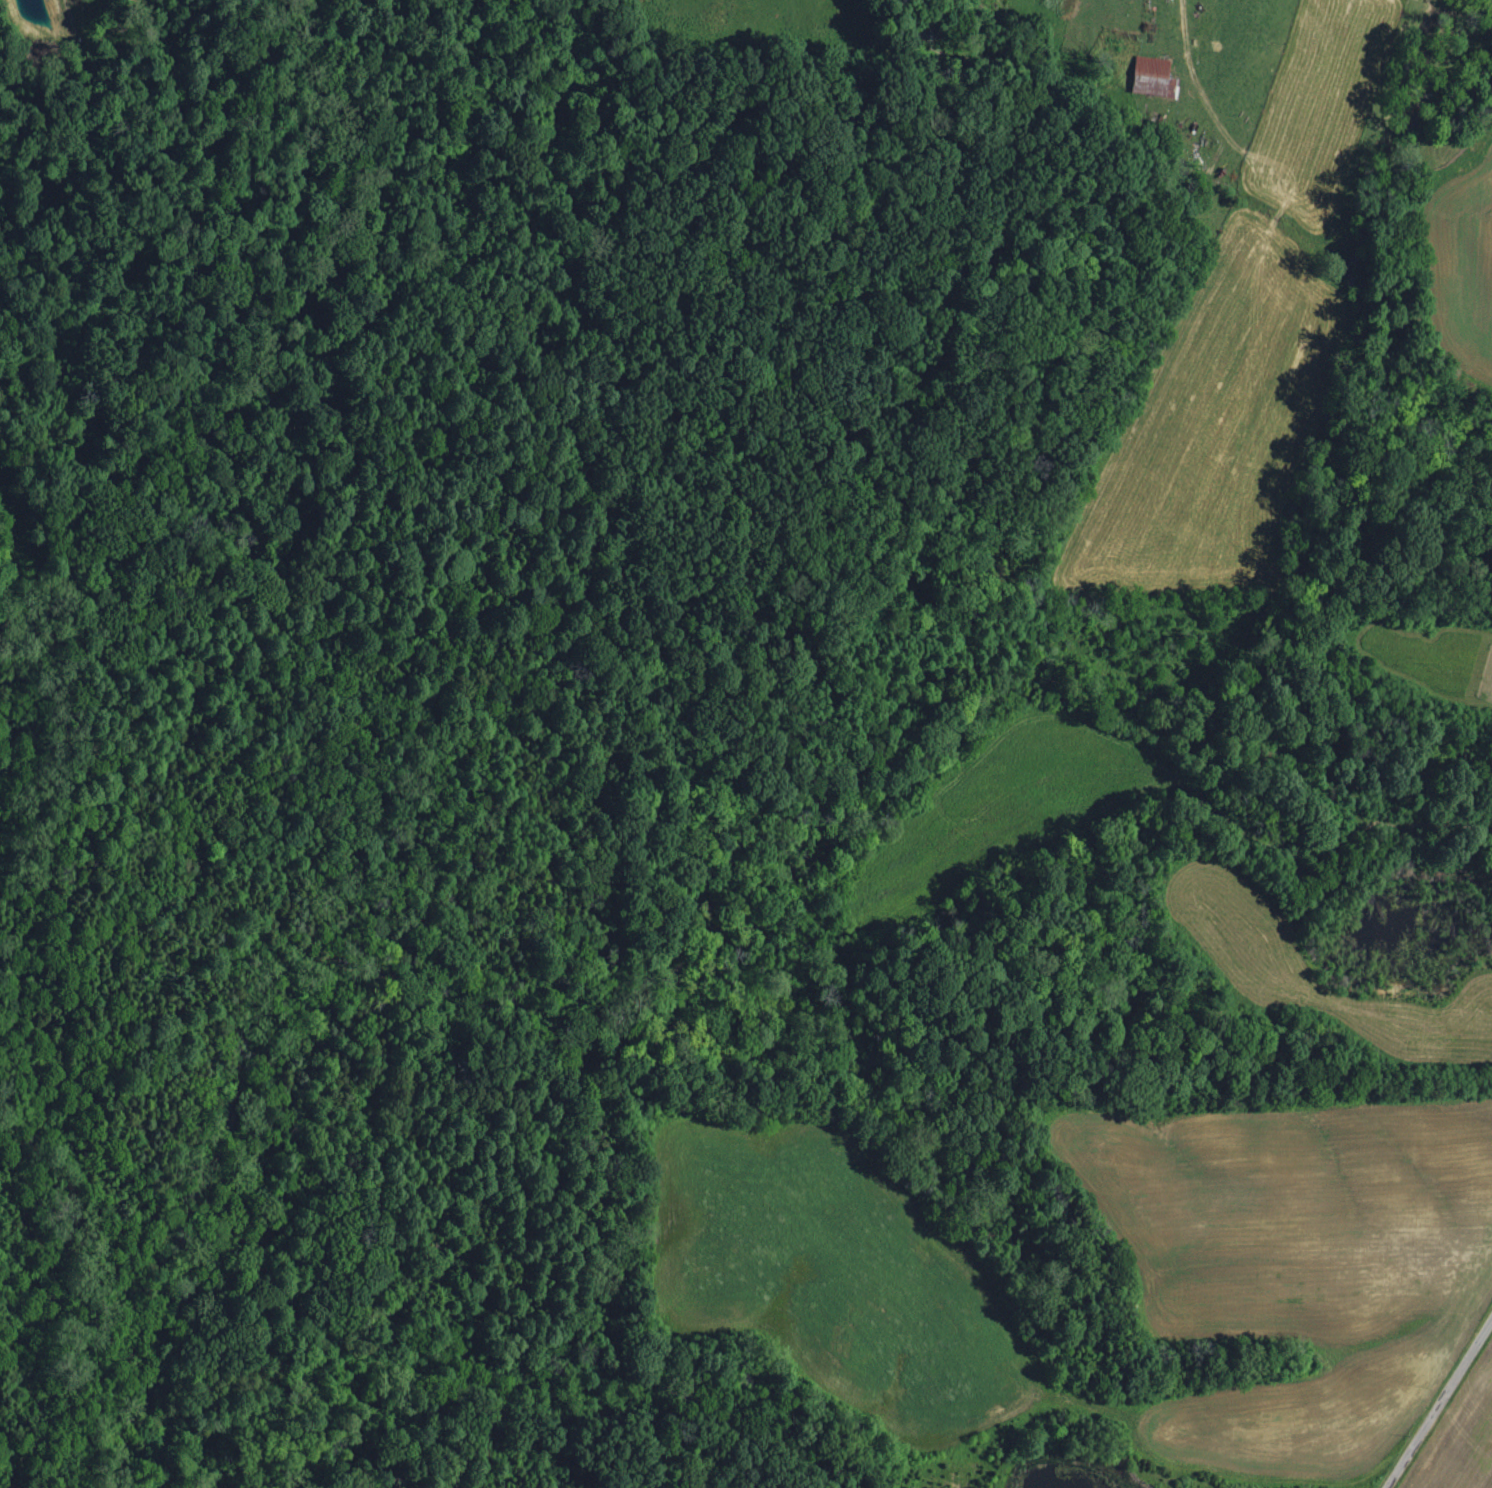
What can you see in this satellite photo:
building: (1155, 78)
road: (1437, 1400)

